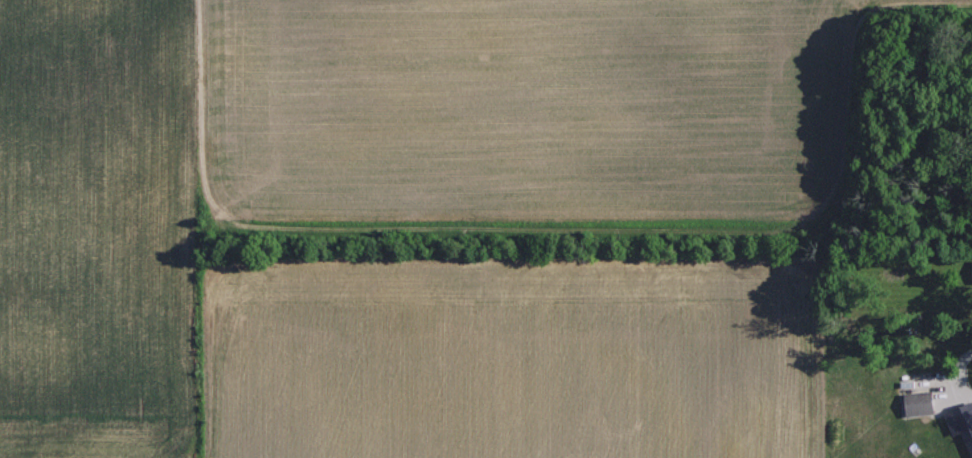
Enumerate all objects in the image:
road: (943, 384)
building: (922, 404)

